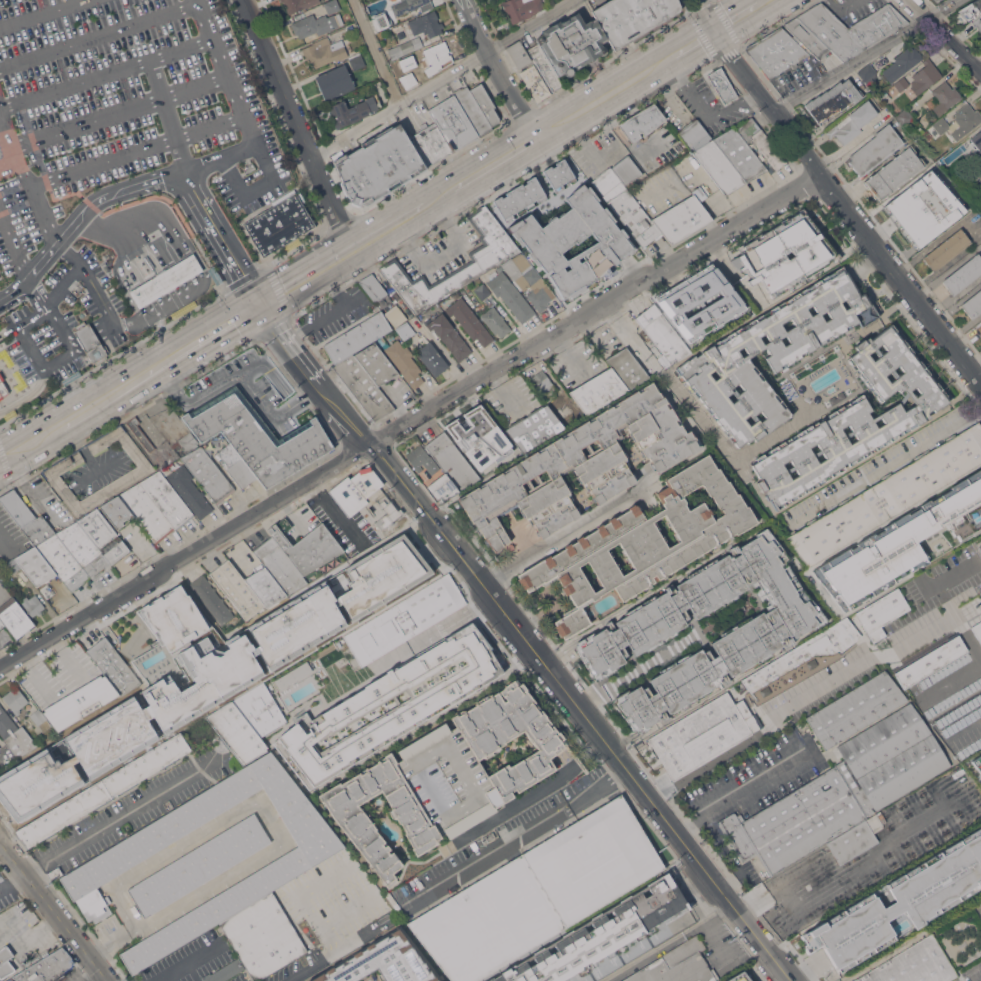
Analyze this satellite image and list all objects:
road: (195, 2)
building: (297, 4)
building: (374, 5)
building: (411, 5)
building: (331, 6)
building: (522, 8)
building: (970, 10)
road: (707, 13)
road: (43, 14)
road: (738, 14)
building: (631, 17)
building: (384, 21)
building: (978, 23)
building: (426, 24)
building: (313, 25)
traffic signals: (714, 28)
building: (851, 28)
road: (208, 33)
building: (807, 36)
road: (944, 36)
building: (571, 43)
building: (405, 47)
road: (680, 49)
building: (324, 51)
road: (377, 51)
building: (776, 51)
building: (436, 52)
building: (518, 53)
road: (866, 55)
building: (414, 58)
building: (357, 61)
building: (902, 63)
building: (544, 66)
road: (500, 69)
road: (105, 73)
building: (420, 73)
building: (868, 74)
building: (925, 76)
road: (441, 78)
building: (335, 81)
building: (535, 83)
building: (901, 83)
building: (720, 85)
road: (686, 87)
building: (944, 97)
building: (833, 100)
building: (484, 102)
road: (733, 103)
road: (593, 104)
building: (353, 110)
building: (473, 110)
road: (119, 112)
road: (169, 114)
building: (904, 116)
parking lot: (121, 118)
building: (649, 118)
building: (965, 118)
building: (453, 122)
building: (853, 122)
building: (941, 125)
road: (297, 127)
building: (633, 129)
building: (918, 130)
building: (927, 134)
road: (7, 140)
building: (760, 143)
building: (977, 143)
building: (430, 145)
building: (875, 149)
road: (136, 151)
building: (956, 151)
building: (739, 154)
building: (711, 156)
road: (505, 159)
road: (9, 164)
building: (379, 166)
building: (893, 172)
building: (975, 174)
building: (557, 175)
road: (153, 180)
building: (980, 187)
road: (446, 196)
building: (626, 199)
road: (37, 202)
road: (845, 204)
building: (923, 209)
building: (681, 218)
building: (280, 222)
road: (972, 230)
road: (386, 233)
road: (222, 240)
building: (549, 242)
road: (13, 245)
road: (146, 249)
building: (947, 249)
road: (439, 250)
building: (815, 252)
building: (481, 263)
road: (33, 270)
building: (964, 274)
building: (528, 280)
road: (861, 280)
building: (166, 281)
gas station: (166, 281)
road: (306, 281)
road: (63, 285)
building: (375, 290)
building: (482, 291)
road: (968, 294)
building: (511, 295)
road: (102, 301)
building: (678, 302)
building: (973, 304)
traffic signals: (261, 309)
road: (946, 313)
road: (336, 314)
building: (395, 315)
road: (33, 319)
building: (469, 320)
building: (496, 321)
building: (979, 326)
road: (966, 327)
road: (8, 329)
road: (61, 329)
building: (406, 331)
building: (663, 334)
building: (449, 335)
building: (357, 337)
road: (160, 338)
road: (211, 338)
building: (868, 338)
building: (91, 342)
parking lot: (38, 345)
road: (30, 349)
road: (566, 353)
building: (772, 354)
building: (5, 357)
building: (432, 358)
building: (404, 362)
building: (376, 364)
building: (627, 367)
road: (158, 369)
road: (240, 372)
road: (311, 378)
building: (18, 380)
building: (543, 385)
building: (363, 387)
building: (2, 389)
building: (598, 390)
building: (861, 392)
road: (27, 395)
building: (573, 411)
building: (9, 414)
road: (81, 414)
road: (701, 416)
road: (409, 417)
building: (564, 419)
building: (852, 421)
building: (535, 428)
building: (140, 434)
building: (258, 436)
building: (480, 437)
building: (185, 443)
road: (85, 455)
building: (452, 457)
road: (3, 460)
building: (422, 460)
road: (105, 464)
building: (236, 465)
building: (583, 465)
road: (888, 466)
building: (140, 470)
building: (208, 474)
building: (190, 491)
building: (364, 493)
building: (889, 496)
building: (167, 499)
building: (17, 507)
building: (117, 511)
building: (147, 513)
building: (38, 529)
road: (569, 533)
building: (102, 536)
building: (643, 543)
building: (903, 543)
road: (973, 543)
road: (6, 544)
building: (980, 546)
building: (82, 548)
building: (296, 554)
building: (978, 556)
building: (62, 562)
building: (12, 566)
building: (35, 566)
building: (265, 586)
building: (237, 589)
building: (211, 598)
building: (33, 605)
road: (954, 606)
building: (194, 611)
building: (14, 617)
building: (405, 619)
building: (328, 623)
building: (1, 624)
building: (766, 630)
building: (977, 631)
building: (863, 650)
road: (218, 661)
building: (113, 665)
road: (635, 669)
building: (380, 684)
building: (16, 699)
building: (80, 702)
building: (260, 709)
building: (856, 709)
road: (578, 711)
building: (41, 719)
road: (964, 724)
building: (237, 732)
building: (703, 734)
building: (14, 735)
road: (749, 741)
building: (0, 746)
building: (978, 762)
building: (110, 765)
building: (446, 777)
road: (738, 791)
building: (840, 792)
road: (531, 795)
road: (260, 806)
road: (119, 817)
building: (488, 837)
road: (520, 839)
building: (855, 839)
building: (199, 865)
building: (104, 867)
road: (14, 880)
road: (839, 881)
road: (2, 883)
road: (2, 887)
building: (538, 893)
building: (980, 899)
building: (895, 903)
road: (53, 911)
building: (600, 934)
building: (262, 938)
road: (110, 940)
road: (28, 941)
road: (668, 943)
road: (332, 953)
building: (5, 955)
building: (617, 959)
building: (382, 962)
building: (914, 964)
building: (677, 965)
building: (47, 968)
building: (225, 971)
road: (804, 971)
road: (174, 973)
road: (191, 973)
road: (87, 974)
building: (739, 977)

